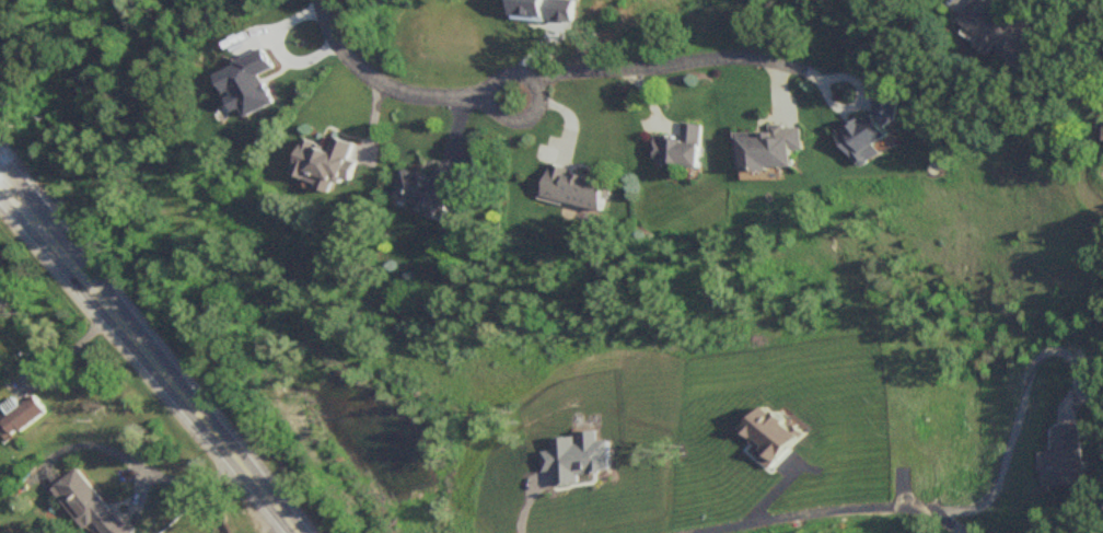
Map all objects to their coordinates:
building: (1003, 32)
road: (1083, 34)
road: (276, 48)
road: (665, 63)
road: (380, 84)
road: (490, 105)
building: (871, 129)
building: (674, 148)
building: (766, 149)
building: (327, 164)
building: (430, 188)
building: (569, 188)
road: (12, 192)
road: (12, 196)
road: (68, 259)
road: (71, 347)
road: (999, 390)
building: (22, 415)
road: (202, 421)
road: (137, 466)
road: (801, 494)
building: (90, 503)
road: (288, 531)

